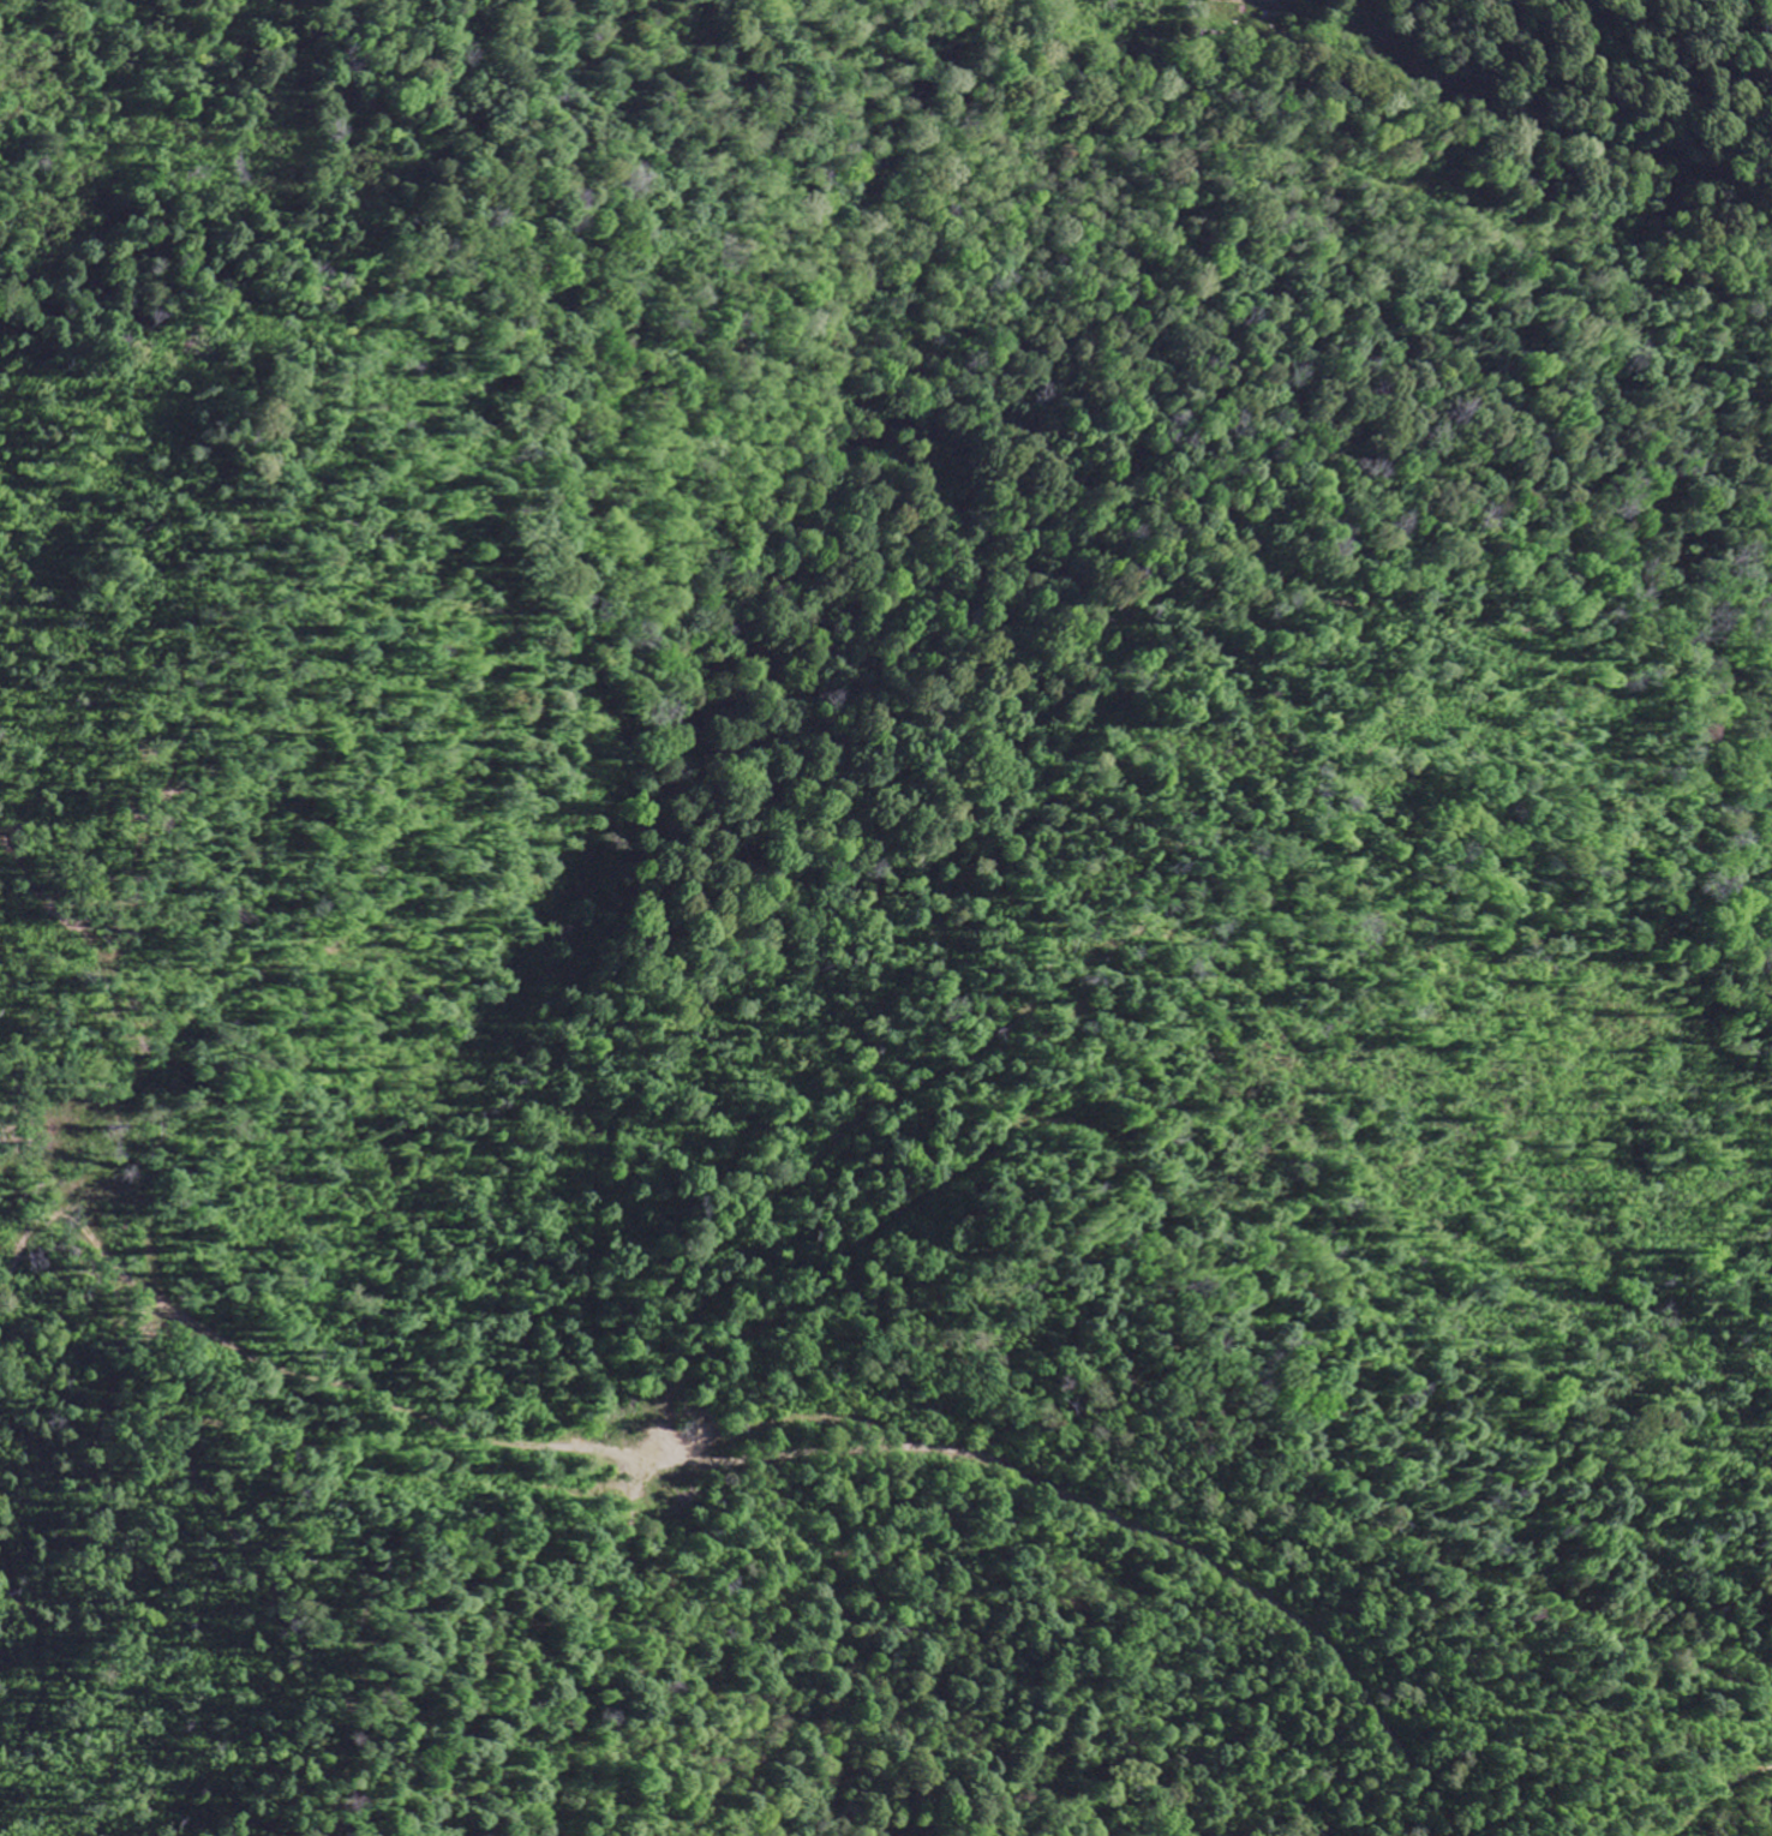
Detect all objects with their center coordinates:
road: (1509, 100)

